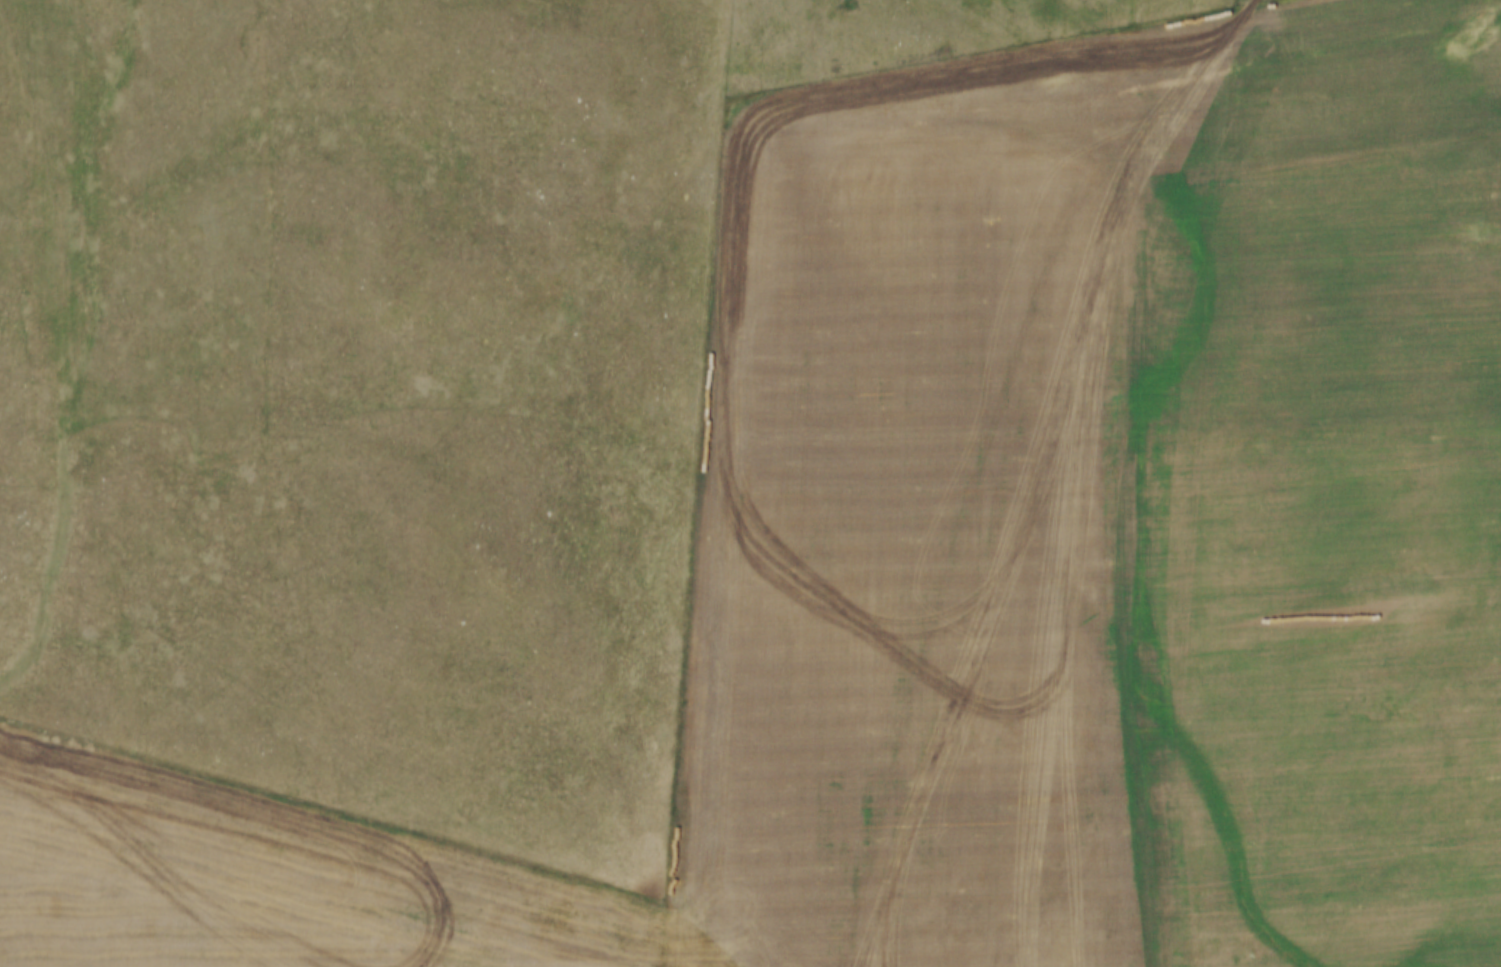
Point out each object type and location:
road: (1121, 455)

